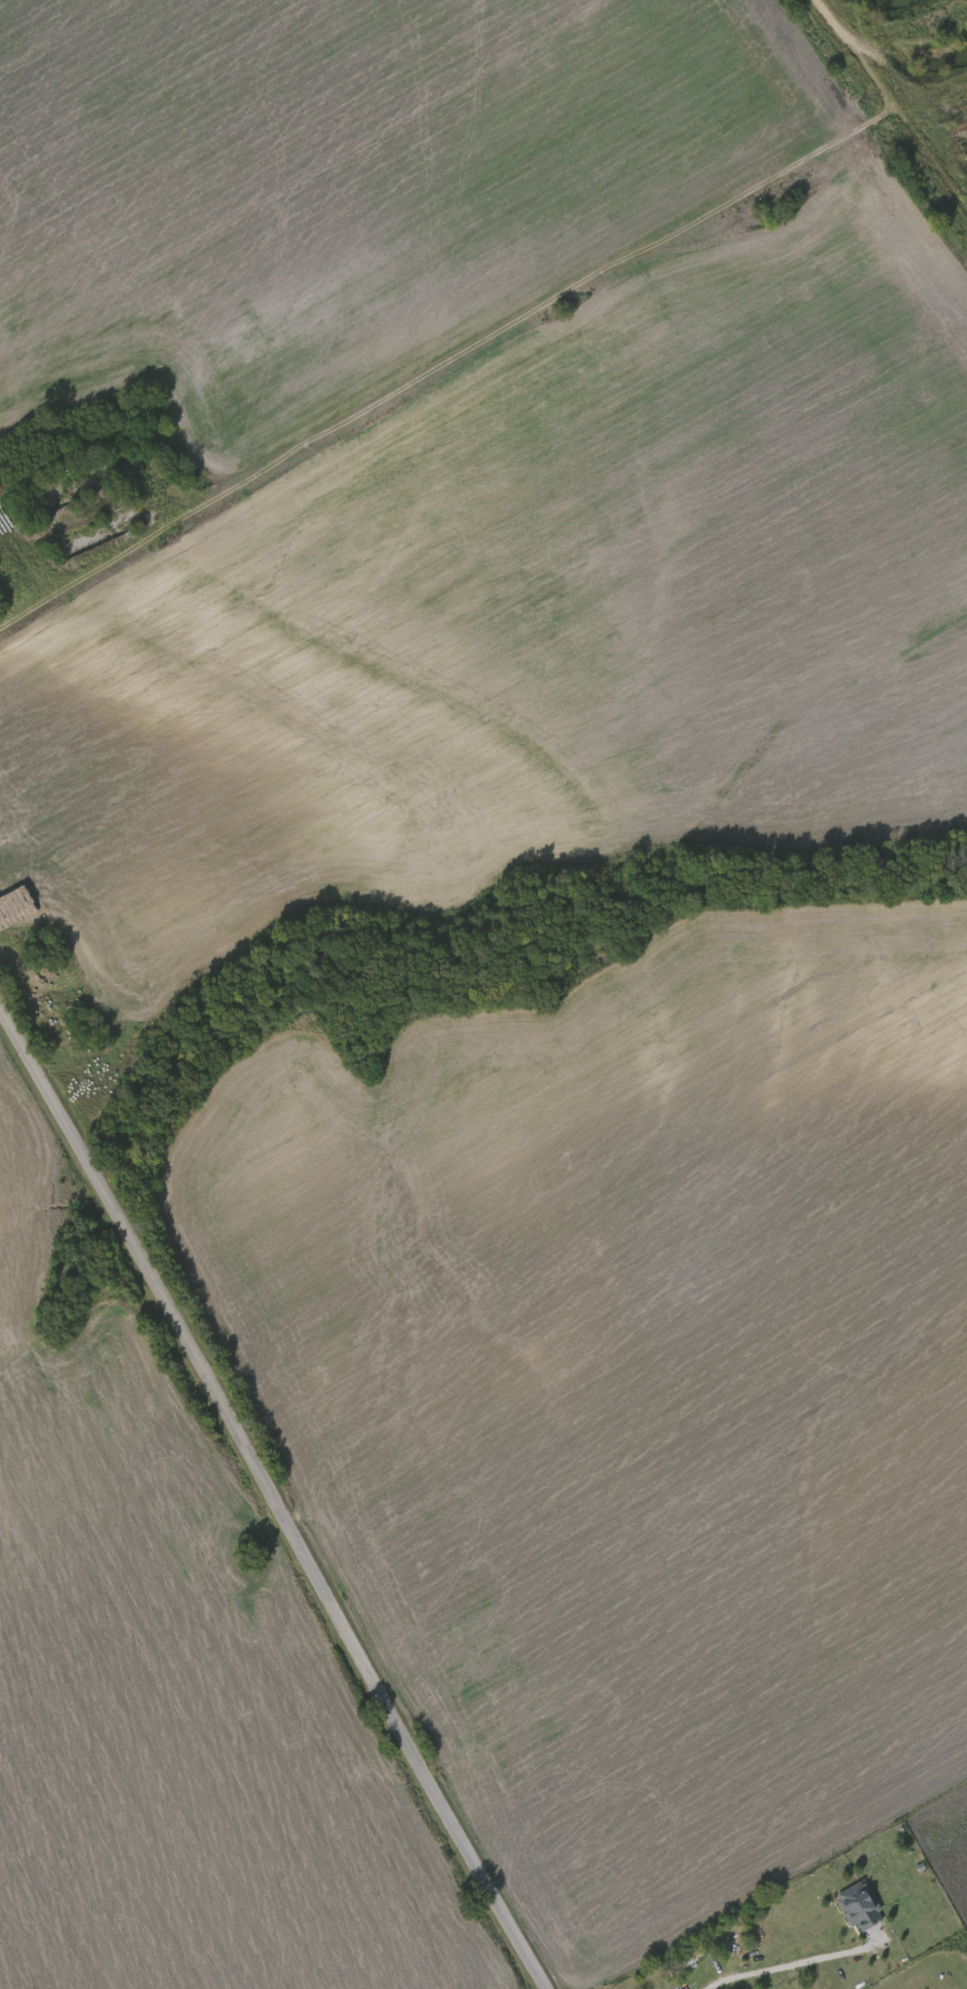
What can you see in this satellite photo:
road: (483, 349)
road: (273, 1501)
building: (861, 1911)
building: (685, 1960)
road: (792, 1964)

